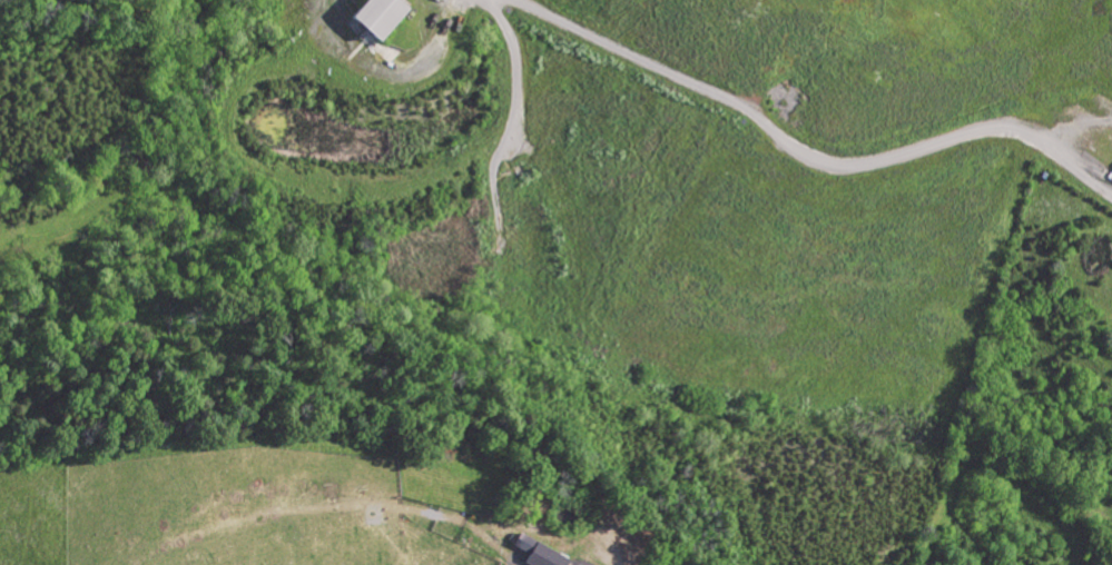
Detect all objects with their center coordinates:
building: (370, 18)

